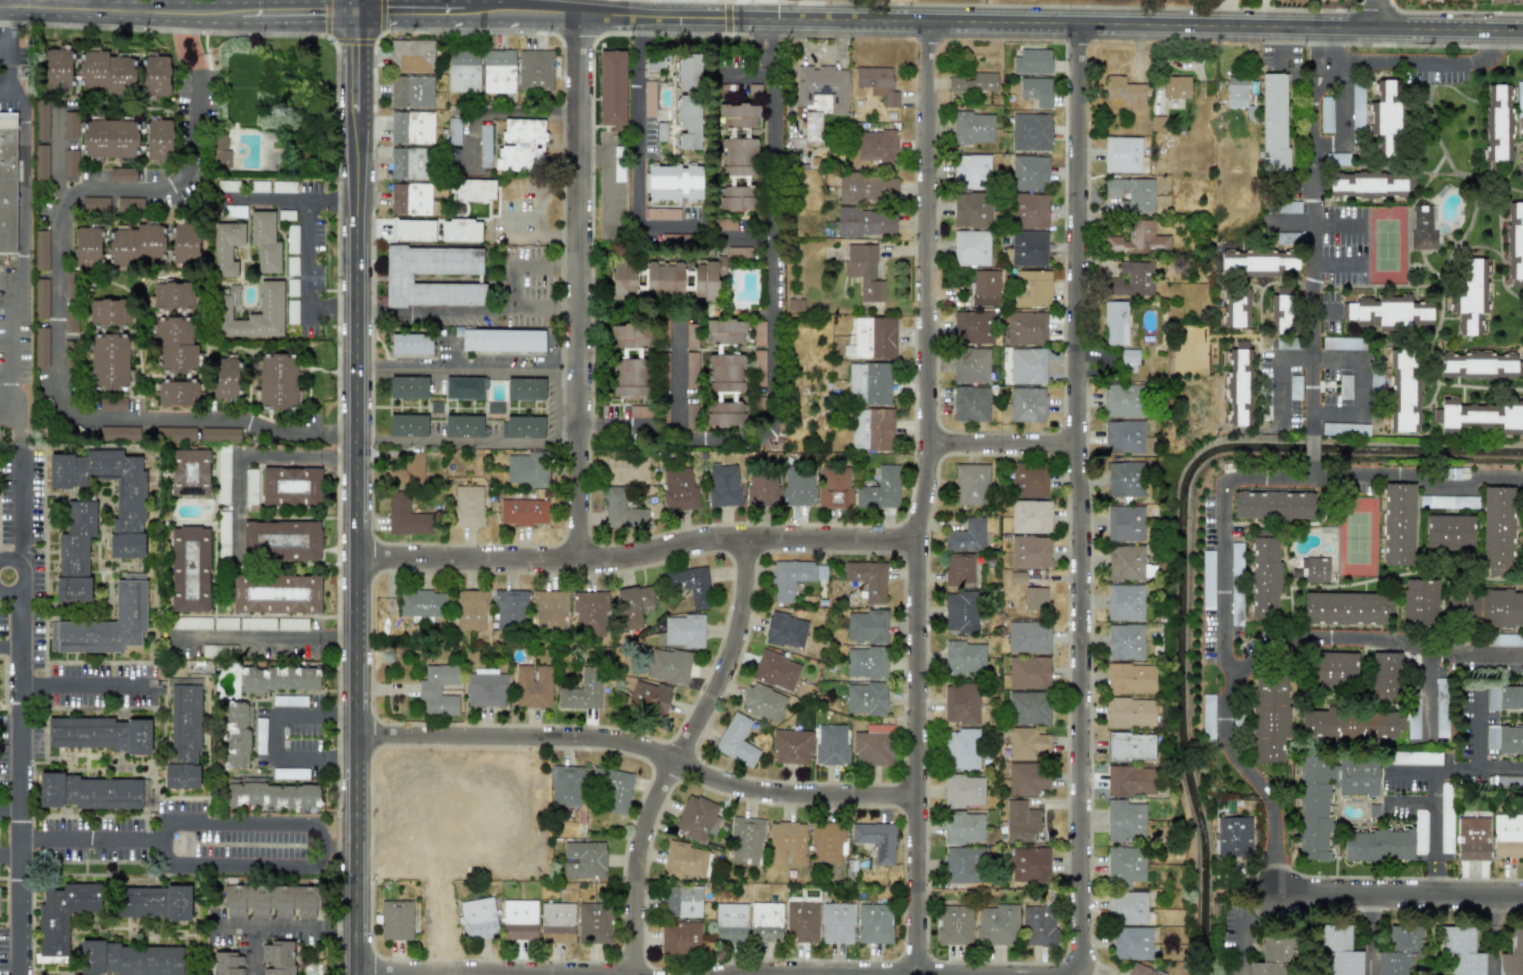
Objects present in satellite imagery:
building: (1420, 0)
building: (1506, 1)
road: (117, 6)
road: (238, 7)
road: (356, 7)
road: (423, 7)
road: (553, 8)
road: (672, 9)
road: (178, 14)
traffic signals: (357, 14)
road: (389, 14)
road: (1379, 14)
road: (971, 22)
road: (9, 31)
road: (1315, 44)
road: (766, 49)
road: (4, 51)
building: (411, 56)
building: (656, 59)
road: (1417, 60)
building: (1032, 61)
building: (88, 70)
building: (535, 70)
building: (463, 71)
building: (498, 71)
road: (8, 74)
building: (155, 76)
building: (879, 83)
building: (974, 83)
building: (612, 87)
building: (1176, 87)
building: (821, 88)
building: (1036, 90)
building: (411, 91)
building: (1233, 92)
building: (1125, 93)
road: (4, 95)
building: (649, 99)
building: (1519, 99)
building: (688, 102)
road: (191, 105)
building: (1357, 106)
building: (1272, 109)
road: (496, 110)
power tower: (278, 112)
building: (739, 112)
building: (1326, 115)
building: (1384, 119)
building: (1498, 122)
building: (70, 125)
building: (42, 126)
building: (812, 126)
building: (412, 127)
building: (973, 128)
building: (453, 130)
road: (769, 132)
building: (1030, 132)
building: (109, 139)
building: (156, 140)
building: (521, 143)
building: (796, 143)
building: (484, 146)
building: (876, 146)
building: (220, 151)
building: (1122, 154)
building: (738, 155)
road: (56, 156)
building: (41, 161)
building: (408, 163)
building: (70, 165)
road: (1390, 168)
building: (1521, 168)
building: (970, 171)
building: (1029, 173)
building: (122, 175)
road: (608, 176)
building: (672, 181)
road: (1426, 181)
building: (8, 182)
building: (1370, 185)
building: (257, 186)
building: (283, 187)
road: (1512, 188)
building: (867, 189)
building: (474, 190)
building: (514, 190)
road: (637, 190)
building: (1133, 194)
road: (331, 199)
building: (410, 199)
building: (735, 199)
road: (1428, 199)
building: (95, 203)
building: (1288, 207)
building: (971, 210)
building: (1029, 211)
building: (286, 215)
building: (866, 222)
road: (1313, 222)
road: (1499, 224)
building: (1423, 228)
building: (414, 229)
building: (460, 230)
road: (927, 232)
road: (1075, 233)
building: (292, 239)
building: (1138, 239)
building: (1515, 240)
building: (264, 242)
road: (1458, 242)
building: (185, 244)
building: (136, 245)
road: (1478, 246)
building: (87, 247)
building: (226, 248)
building: (971, 248)
road: (1408, 248)
building: (1028, 249)
building: (41, 250)
road: (23, 254)
road: (307, 255)
building: (1259, 264)
building: (292, 265)
building: (864, 272)
building: (397, 278)
building: (663, 279)
building: (707, 280)
building: (1131, 280)
building: (623, 282)
road: (581, 286)
road: (1380, 286)
building: (292, 288)
building: (986, 288)
building: (1032, 289)
building: (1470, 294)
building: (168, 295)
building: (40, 301)
building: (795, 305)
building: (1236, 306)
building: (270, 309)
building: (1280, 310)
road: (331, 311)
building: (109, 312)
building: (292, 312)
road: (491, 312)
building: (1388, 312)
road: (546, 313)
building: (1116, 323)
building: (69, 325)
road: (58, 327)
building: (973, 328)
building: (1026, 328)
building: (758, 330)
building: (724, 331)
building: (663, 333)
building: (690, 336)
building: (873, 338)
building: (502, 340)
building: (1343, 343)
building: (174, 344)
building: (410, 344)
building: (41, 347)
building: (629, 358)
road: (1343, 359)
building: (1130, 360)
building: (109, 361)
building: (1480, 364)
building: (971, 365)
road: (468, 366)
building: (1027, 366)
building: (691, 370)
building: (279, 381)
building: (869, 383)
building: (1238, 384)
building: (1345, 386)
building: (408, 387)
building: (464, 388)
building: (526, 389)
building: (1403, 389)
building: (724, 390)
building: (179, 394)
building: (1122, 401)
building: (112, 404)
building: (970, 404)
building: (1027, 405)
building: (494, 408)
building: (1481, 417)
road: (6, 418)
road: (612, 424)
building: (407, 425)
building: (464, 427)
building: (524, 427)
building: (871, 429)
building: (1345, 429)
building: (120, 432)
building: (175, 433)
building: (220, 434)
road: (760, 434)
road: (1422, 434)
building: (1123, 437)
road: (470, 441)
road: (1001, 442)
road: (246, 458)
building: (527, 468)
building: (627, 469)
building: (409, 470)
building: (189, 472)
building: (223, 474)
building: (1451, 474)
building: (1125, 479)
road: (1256, 479)
building: (1029, 480)
road: (1418, 481)
building: (724, 484)
building: (971, 484)
building: (248, 486)
building: (290, 486)
building: (836, 487)
building: (798, 488)
road: (19, 489)
building: (678, 489)
building: (880, 489)
building: (763, 490)
road: (354, 494)
building: (1448, 502)
building: (129, 504)
building: (1273, 505)
building: (468, 507)
building: (622, 511)
building: (523, 512)
building: (1030, 517)
building: (406, 518)
building: (1398, 518)
building: (1493, 521)
building: (1125, 524)
building: (1449, 532)
building: (223, 535)
building: (966, 536)
building: (281, 540)
building: (75, 551)
road: (636, 551)
building: (1030, 552)
building: (1125, 563)
building: (189, 569)
building: (959, 570)
building: (1316, 570)
building: (821, 572)
road: (25, 576)
building: (1016, 577)
building: (1264, 577)
building: (789, 578)
building: (867, 580)
building: (1207, 580)
building: (690, 585)
building: (1417, 593)
building: (239, 594)
building: (277, 594)
building: (1034, 599)
building: (1125, 602)
building: (1496, 603)
building: (421, 604)
building: (633, 605)
building: (1346, 608)
building: (470, 609)
building: (510, 609)
building: (549, 609)
building: (590, 612)
building: (960, 612)
building: (191, 623)
building: (225, 623)
building: (106, 624)
building: (257, 624)
building: (292, 624)
building: (866, 626)
building: (683, 631)
building: (786, 631)
road: (258, 637)
building: (1028, 637)
road: (1327, 639)
building: (1125, 641)
road: (9, 646)
road: (1430, 649)
power tower: (383, 658)
building: (964, 658)
building: (866, 663)
building: (668, 666)
building: (1381, 669)
building: (775, 671)
building: (1332, 671)
building: (1028, 673)
building: (1131, 678)
building: (278, 679)
road: (83, 684)
building: (532, 686)
building: (485, 688)
building: (438, 689)
building: (582, 692)
building: (649, 697)
building: (1510, 697)
building: (1491, 698)
building: (866, 699)
building: (289, 701)
building: (763, 702)
building: (960, 704)
road: (915, 706)
building: (1441, 707)
building: (1029, 708)
building: (1266, 708)
building: (1131, 712)
building: (1413, 715)
building: (1208, 718)
building: (1351, 724)
road: (1477, 731)
building: (100, 734)
building: (237, 735)
building: (184, 736)
building: (260, 736)
building: (1490, 737)
road: (273, 738)
building: (1510, 740)
building: (736, 741)
building: (1027, 743)
road: (638, 744)
building: (831, 745)
building: (873, 746)
building: (1130, 746)
building: (791, 747)
building: (962, 749)
road: (678, 753)
building: (1414, 758)
road: (1500, 766)
building: (289, 773)
road: (1412, 773)
building: (1027, 778)
building: (1130, 780)
building: (1505, 781)
road: (21, 782)
building: (566, 786)
building: (613, 788)
building: (963, 791)
building: (88, 792)
building: (144, 793)
building: (1326, 793)
building: (273, 795)
road: (1409, 800)
road: (10, 808)
road: (1434, 811)
building: (697, 818)
building: (1446, 818)
building: (1020, 821)
building: (1125, 821)
road: (189, 822)
building: (963, 828)
building: (1420, 831)
building: (1232, 835)
building: (1507, 836)
building: (1473, 838)
building: (746, 840)
building: (876, 840)
building: (786, 843)
building: (827, 843)
building: (1377, 844)
road: (10, 856)
building: (685, 859)
building: (584, 860)
building: (1030, 864)
building: (1125, 864)
road: (238, 865)
building: (963, 865)
road: (1080, 886)
road: (1397, 894)
building: (271, 900)
building: (682, 901)
building: (153, 902)
building: (1127, 908)
building: (63, 917)
building: (478, 918)
building: (396, 920)
building: (519, 920)
building: (557, 922)
building: (730, 922)
building: (766, 922)
building: (802, 922)
building: (593, 923)
building: (837, 923)
building: (874, 923)
building: (997, 924)
building: (954, 925)
building: (1038, 925)
road: (1238, 925)
road: (283, 927)
road: (1369, 934)
road: (1492, 935)
building: (681, 937)
building: (1132, 943)
building: (1338, 950)
building: (1461, 950)
road: (253, 951)
building: (1399, 951)
building: (1512, 955)
building: (278, 957)
building: (1272, 957)
building: (131, 959)
building: (227, 963)
building: (1142, 971)
road: (381, 974)

